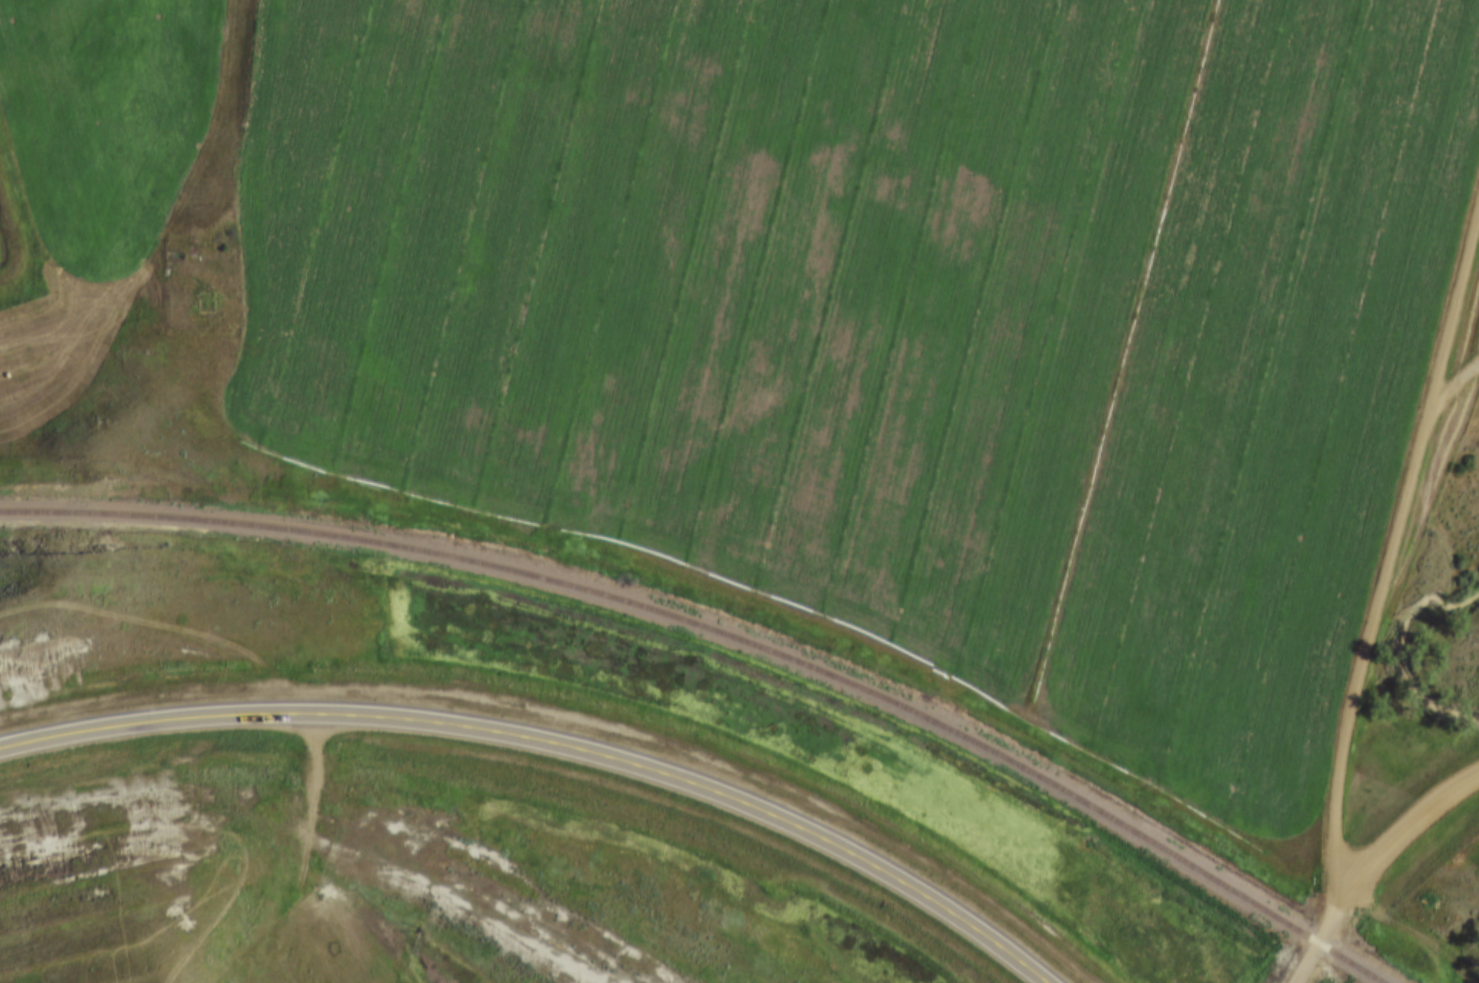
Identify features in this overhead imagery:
road: (15, 229)
road: (1452, 384)
road: (1391, 547)
railway: (727, 639)
road: (553, 741)
road: (310, 769)
road: (1399, 826)
road: (1315, 942)

